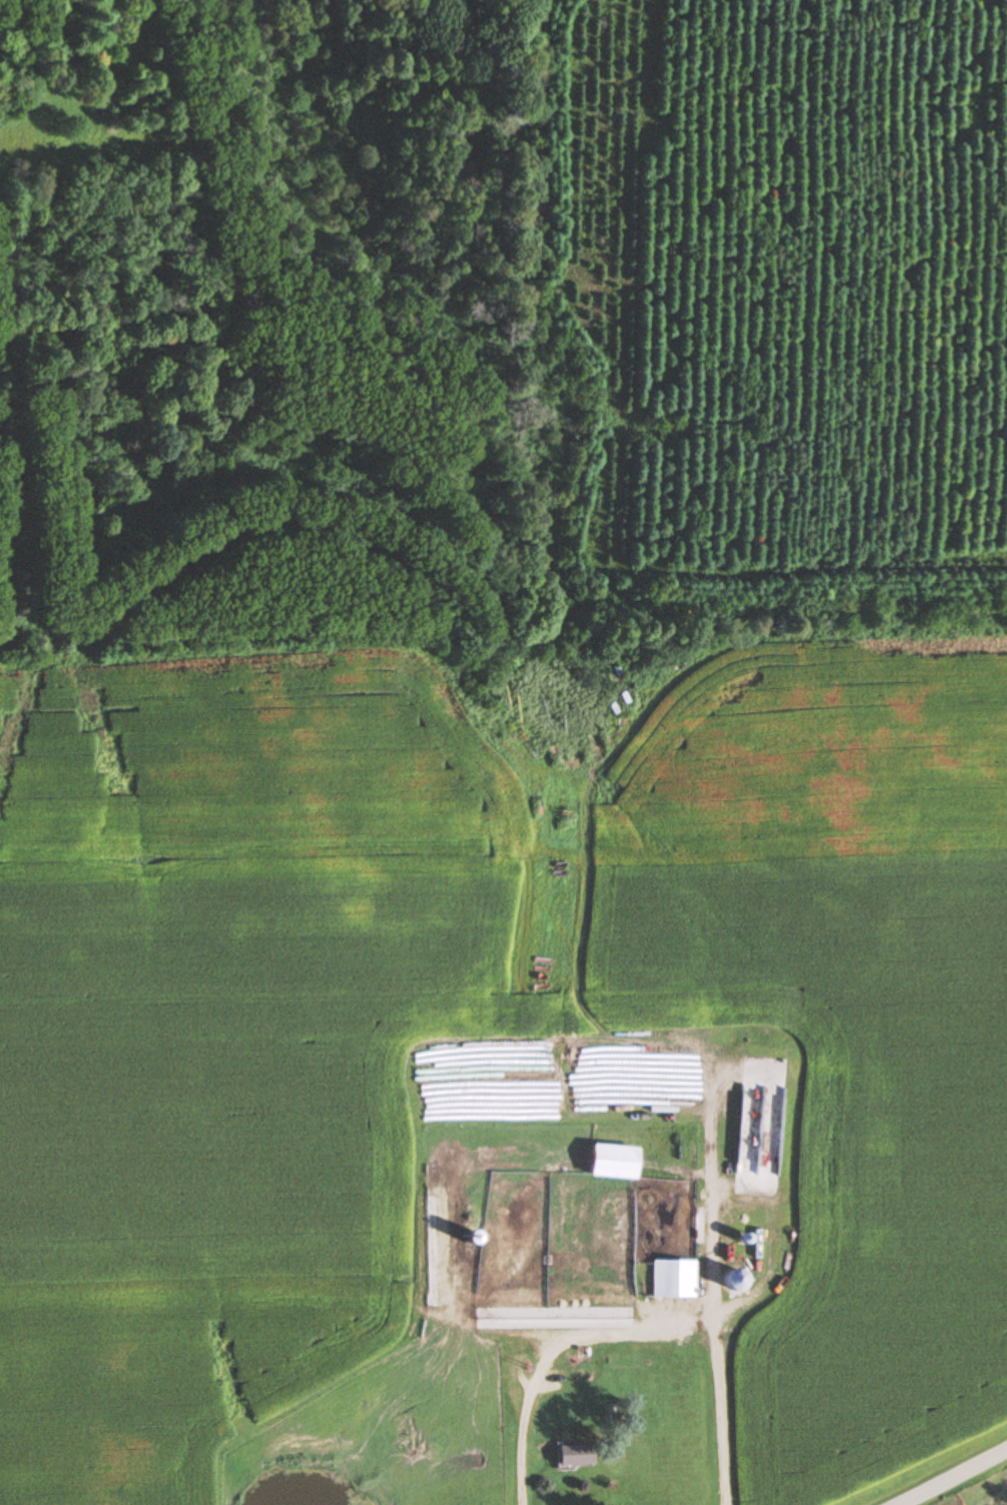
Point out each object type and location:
building: (604, 1162)
building: (668, 1279)
building: (724, 1280)
building: (565, 1456)
road: (945, 1475)

